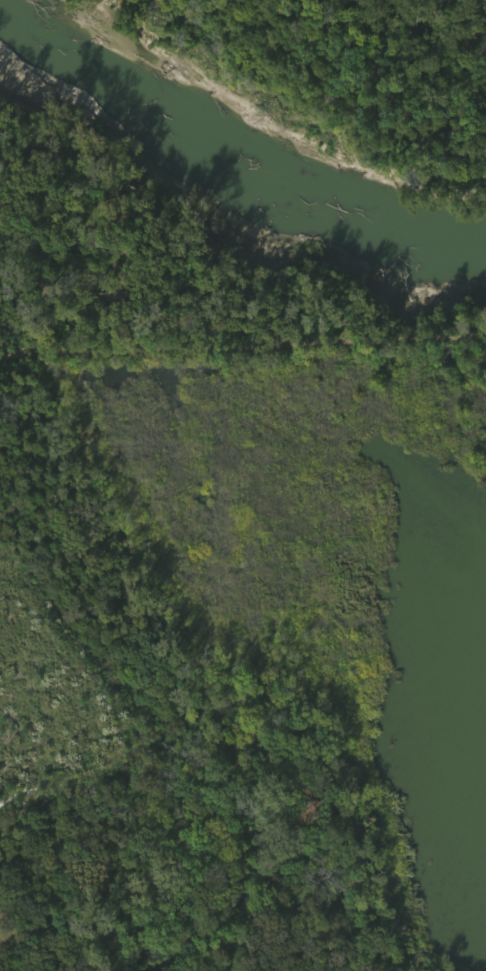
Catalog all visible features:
river: (242, 153)

